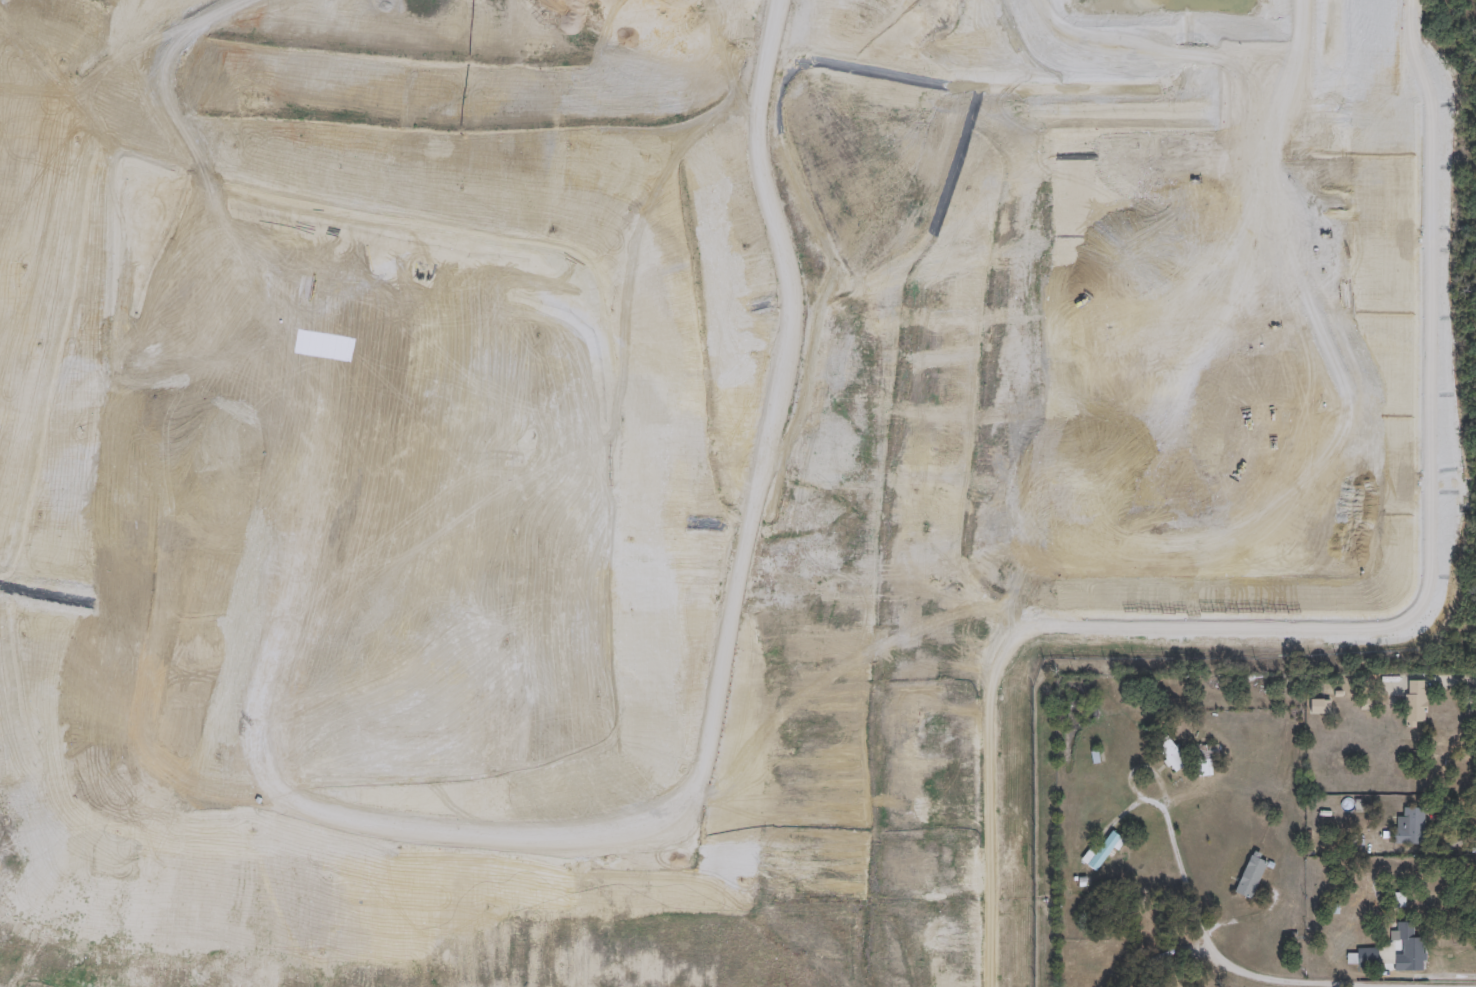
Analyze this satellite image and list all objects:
landfill: (679, 456)
road: (1453, 677)
building: (1414, 703)
building: (1318, 705)
building: (1175, 752)
building: (1210, 752)
road: (1130, 783)
building: (1411, 827)
road: (1462, 840)
building: (1106, 850)
building: (1252, 872)
building: (1409, 947)
road: (1217, 954)
building: (1363, 956)
building: (1178, 985)

